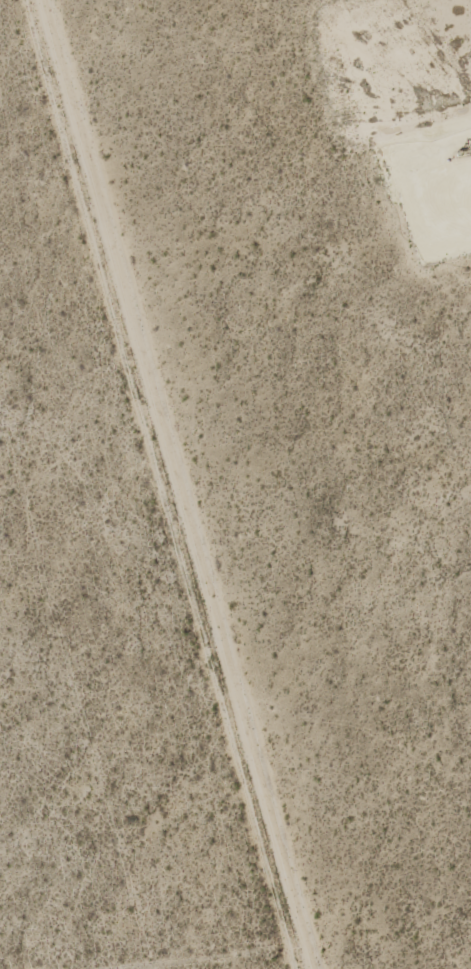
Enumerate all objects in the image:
road: (453, 266)

